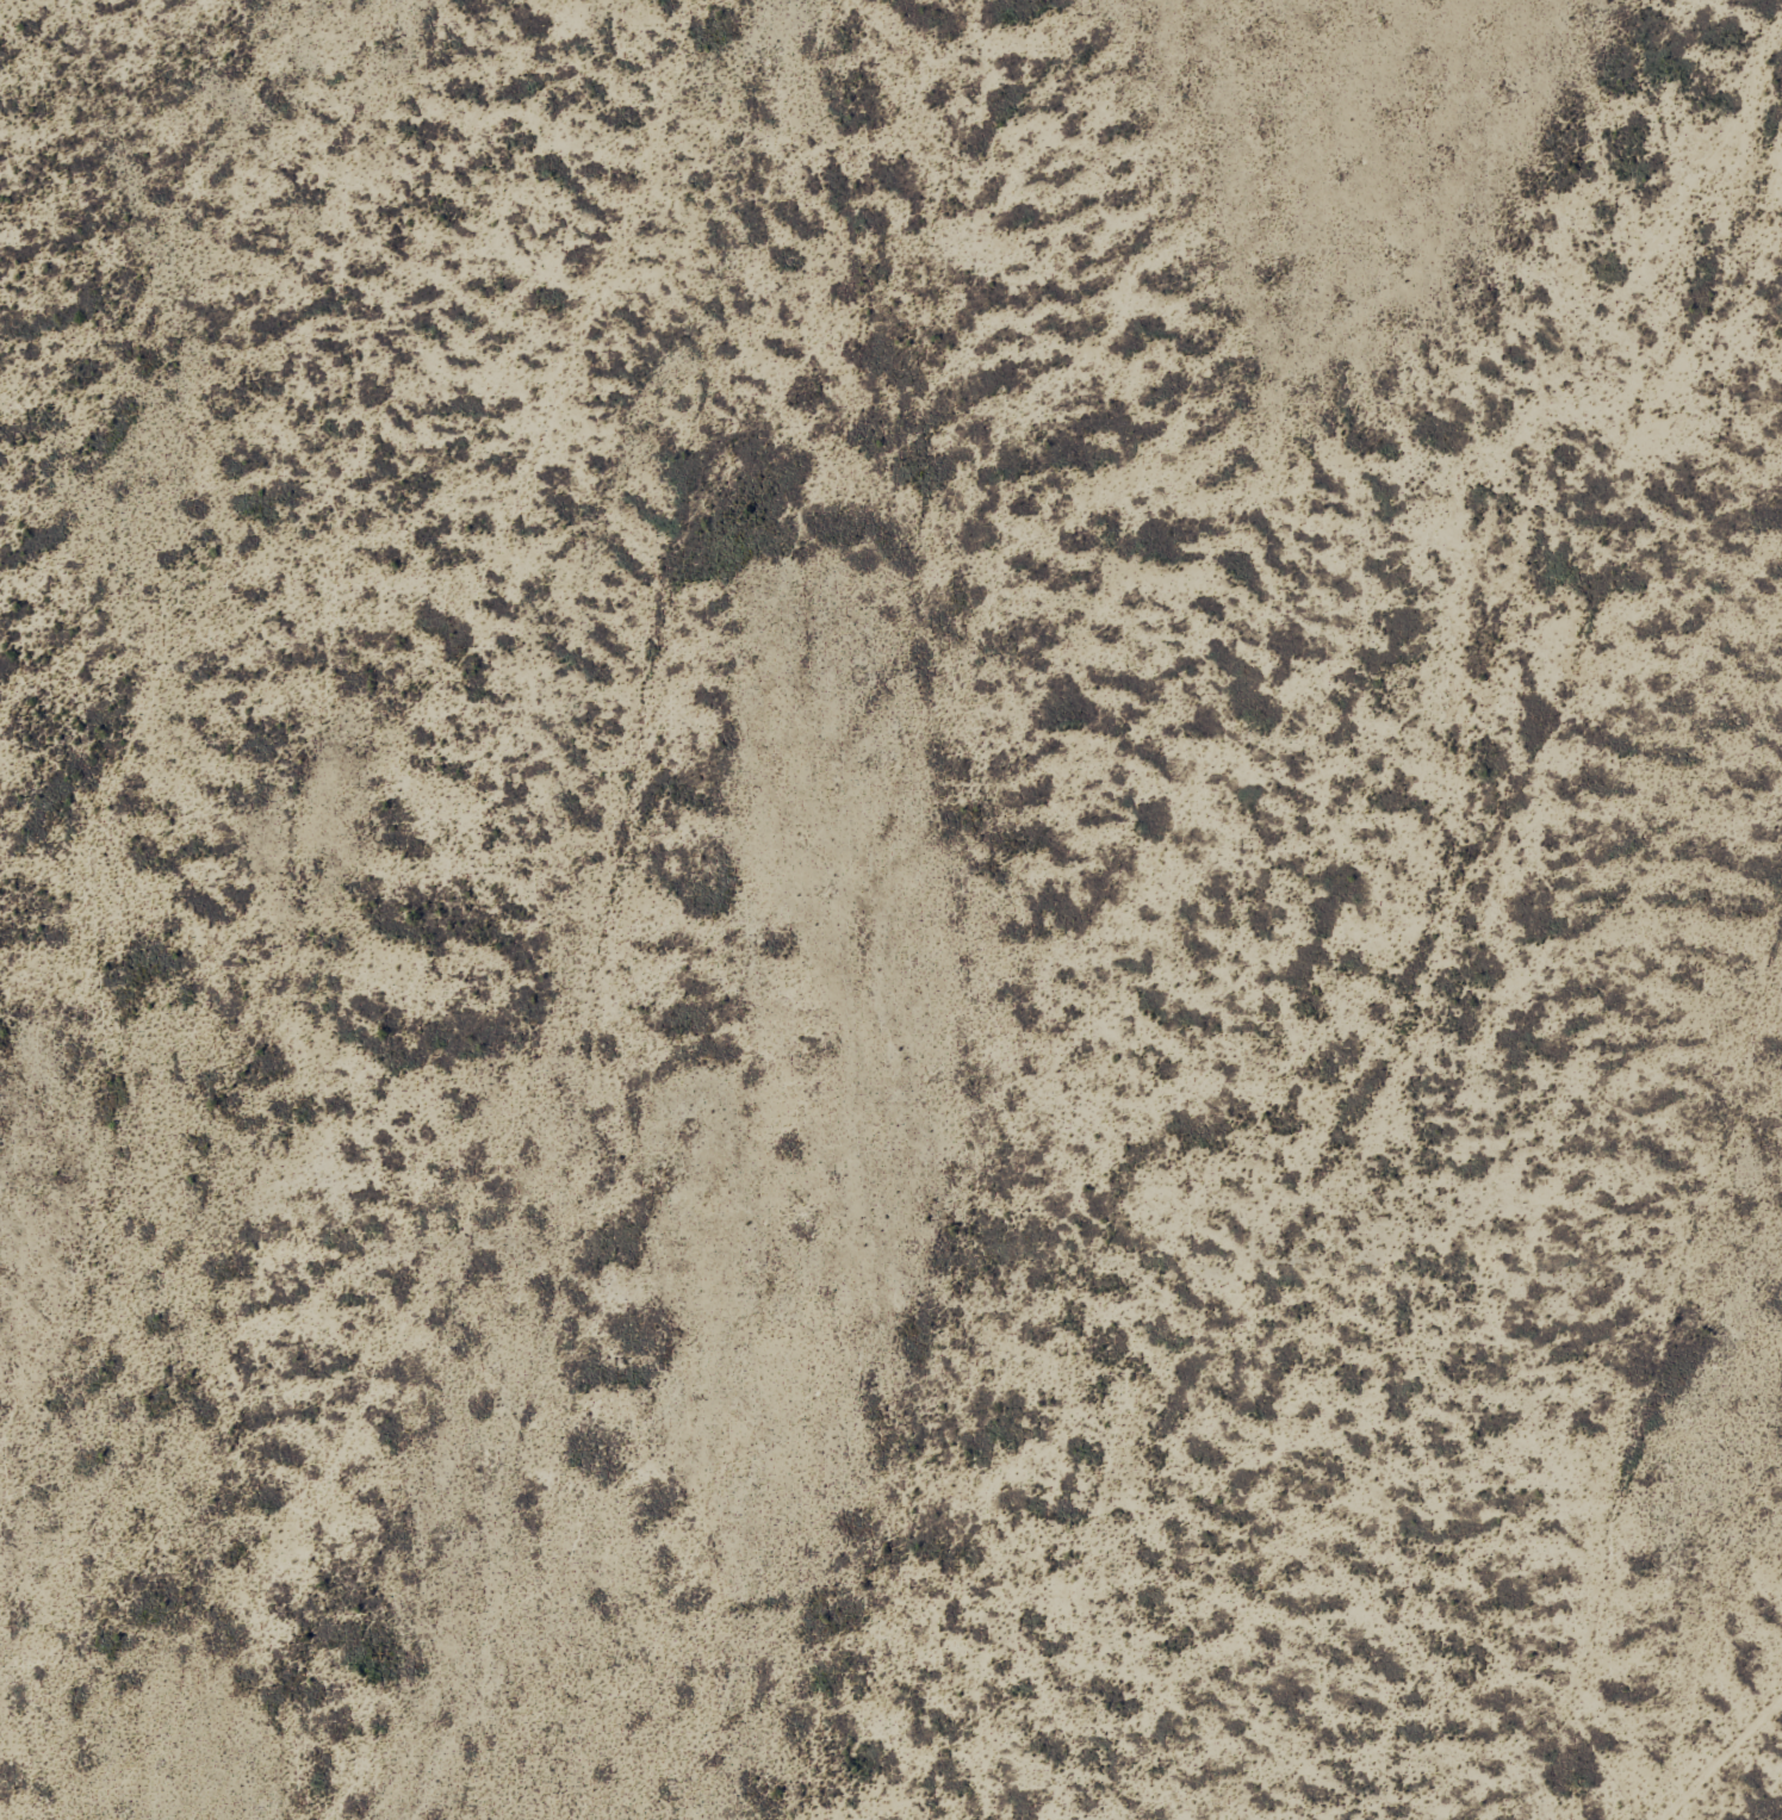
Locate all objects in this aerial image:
road: (1725, 1576)

